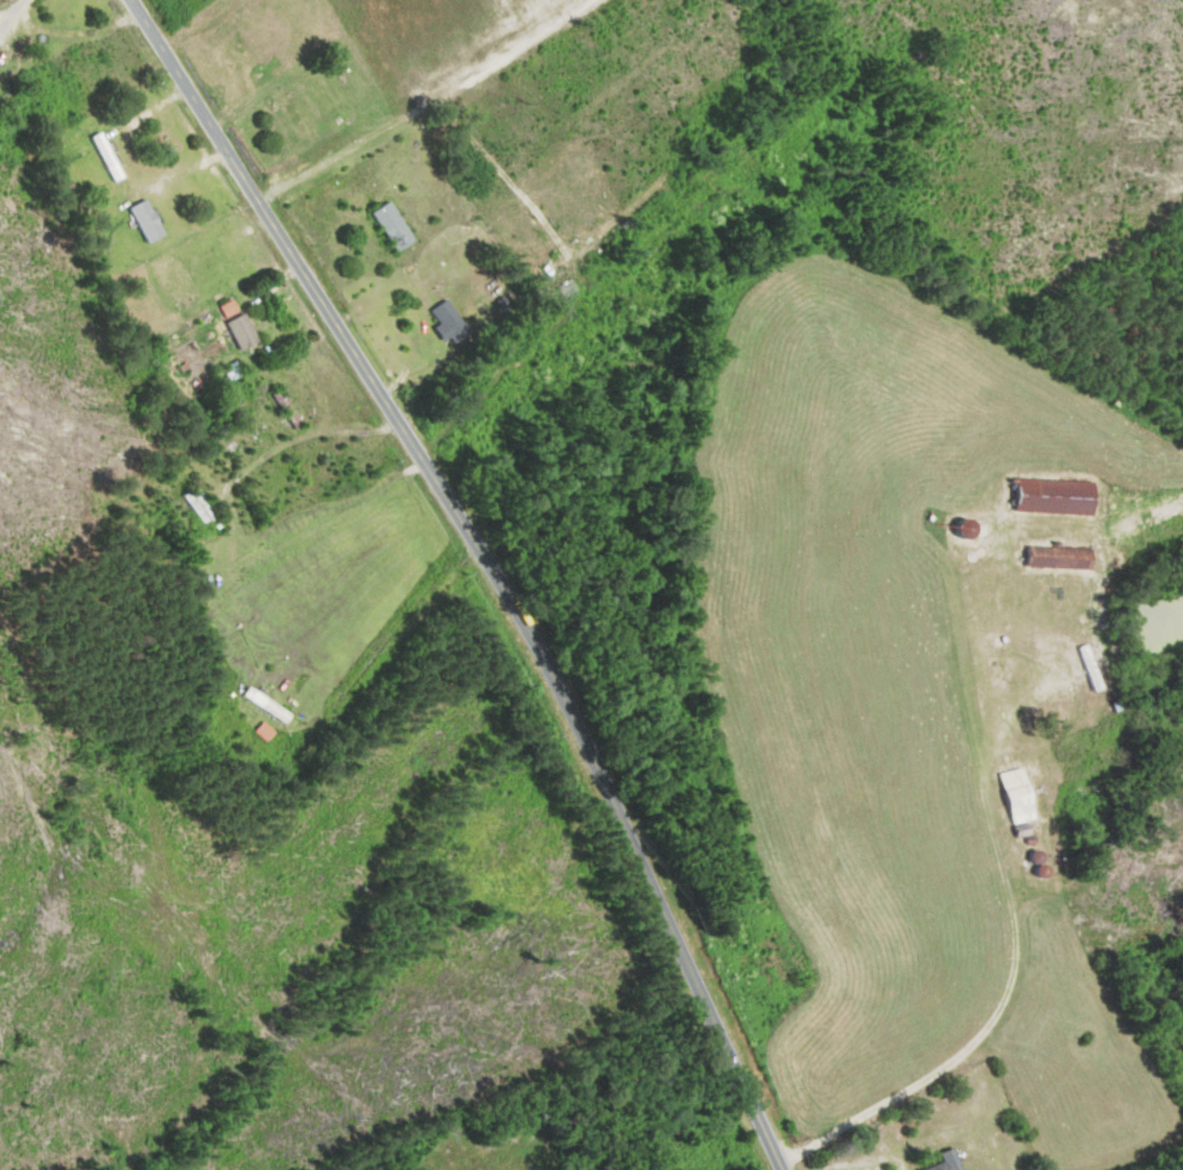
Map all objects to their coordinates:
building: (295, 114)
building: (108, 157)
building: (149, 221)
building: (395, 226)
building: (232, 309)
building: (450, 322)
building: (244, 332)
building: (288, 410)
building: (330, 471)
building: (1058, 496)
building: (1062, 559)
road: (489, 567)
building: (1093, 669)
building: (268, 705)
building: (267, 732)
building: (1021, 796)
building: (951, 1160)

